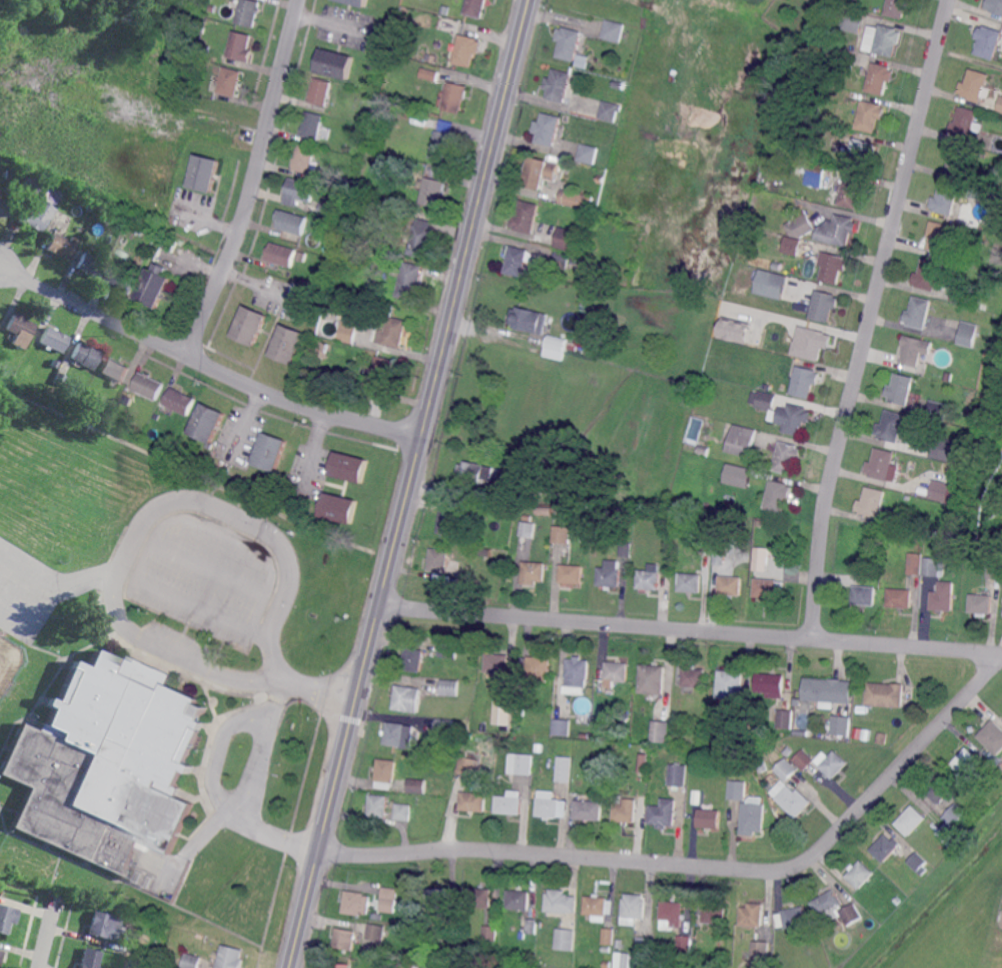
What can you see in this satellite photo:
building: (358, 2)
building: (995, 6)
building: (477, 8)
building: (898, 8)
building: (214, 9)
building: (249, 13)
building: (854, 20)
building: (615, 30)
building: (209, 33)
building: (814, 34)
building: (887, 40)
building: (989, 41)
building: (570, 43)
building: (241, 46)
building: (468, 50)
building: (435, 58)
building: (845, 58)
building: (583, 61)
building: (337, 63)
building: (424, 70)
building: (880, 78)
building: (230, 82)
building: (620, 84)
building: (559, 85)
building: (975, 85)
building: (192, 89)
building: (322, 91)
building: (456, 96)
building: (1000, 105)
building: (611, 110)
building: (871, 115)
building: (420, 121)
building: (965, 122)
building: (313, 125)
building: (548, 128)
building: (328, 143)
building: (444, 145)
building: (981, 146)
building: (840, 148)
building: (589, 152)
building: (862, 153)
building: (825, 157)
building: (305, 158)
building: (958, 160)
building: (438, 170)
building: (397, 171)
building: (2, 172)
building: (541, 172)
building: (206, 173)
building: (816, 174)
building: (10, 176)
building: (324, 178)
building: (602, 178)
road: (252, 181)
road: (484, 184)
building: (27, 187)
building: (300, 191)
building: (10, 192)
building: (433, 192)
building: (853, 192)
building: (578, 199)
building: (758, 200)
building: (946, 200)
building: (357, 202)
building: (3, 208)
building: (64, 208)
building: (595, 208)
building: (325, 209)
building: (99, 214)
road: (206, 215)
building: (776, 215)
building: (527, 216)
building: (105, 218)
building: (29, 219)
building: (291, 221)
building: (801, 224)
building: (117, 226)
building: (838, 230)
building: (99, 231)
building: (939, 236)
building: (422, 237)
building: (572, 239)
building: (123, 243)
building: (170, 244)
building: (793, 245)
building: (59, 246)
building: (143, 247)
building: (359, 250)
building: (370, 252)
building: (281, 254)
building: (301, 257)
building: (575, 258)
building: (562, 259)
building: (519, 260)
building: (90, 265)
building: (778, 266)
building: (833, 266)
building: (928, 274)
building: (122, 281)
building: (411, 281)
building: (771, 283)
road: (256, 285)
building: (154, 286)
building: (310, 286)
building: (962, 294)
building: (824, 305)
building: (336, 307)
building: (983, 308)
building: (919, 312)
road: (870, 317)
building: (530, 320)
building: (776, 322)
building: (249, 327)
building: (734, 329)
building: (19, 330)
building: (348, 332)
building: (392, 332)
building: (968, 333)
building: (52, 340)
building: (288, 343)
building: (814, 343)
building: (555, 347)
building: (323, 348)
building: (913, 350)
building: (85, 356)
building: (54, 364)
road: (206, 365)
building: (113, 370)
building: (382, 372)
building: (949, 377)
building: (59, 379)
building: (805, 381)
building: (148, 386)
building: (768, 386)
building: (329, 387)
building: (901, 388)
building: (126, 399)
building: (764, 399)
building: (179, 402)
building: (115, 403)
building: (938, 410)
building: (156, 416)
building: (791, 418)
building: (207, 424)
building: (892, 426)
building: (743, 441)
building: (702, 449)
building: (947, 449)
building: (270, 451)
road: (418, 451)
building: (787, 457)
building: (881, 465)
building: (349, 466)
building: (953, 469)
building: (479, 472)
building: (739, 476)
building: (517, 490)
building: (941, 491)
building: (777, 495)
building: (872, 502)
building: (337, 507)
building: (544, 510)
road: (148, 513)
building: (449, 518)
building: (666, 518)
building: (760, 522)
road: (206, 524)
building: (528, 527)
building: (682, 531)
building: (934, 532)
building: (561, 535)
building: (587, 541)
building: (625, 548)
building: (467, 551)
building: (719, 557)
building: (759, 558)
building: (439, 560)
building: (915, 563)
building: (933, 565)
road: (209, 567)
building: (994, 569)
building: (860, 571)
building: (533, 572)
building: (570, 573)
building: (610, 574)
building: (649, 580)
building: (877, 581)
building: (690, 582)
building: (730, 585)
building: (765, 588)
building: (864, 595)
building: (943, 596)
building: (899, 597)
building: (981, 604)
road: (202, 607)
road: (256, 610)
road: (370, 628)
road: (689, 629)
building: (449, 649)
building: (414, 659)
building: (497, 662)
building: (536, 668)
building: (577, 671)
building: (617, 671)
building: (694, 676)
building: (653, 679)
building: (730, 684)
building: (771, 684)
building: (450, 687)
road: (320, 691)
building: (823, 691)
building: (886, 694)
building: (408, 698)
road: (277, 701)
building: (505, 707)
building: (520, 710)
building: (744, 714)
building: (785, 718)
building: (841, 724)
building: (561, 725)
building: (445, 726)
building: (659, 730)
building: (400, 734)
building: (585, 735)
building: (625, 735)
building: (992, 736)
building: (883, 738)
building: (700, 741)
building: (540, 745)
road: (222, 748)
building: (787, 749)
building: (702, 754)
building: (803, 759)
building: (966, 761)
building: (106, 762)
building: (521, 763)
building: (644, 763)
building: (834, 764)
building: (469, 765)
road: (257, 766)
building: (763, 767)
building: (786, 768)
building: (564, 769)
building: (606, 772)
building: (386, 773)
building: (678, 773)
building: (417, 786)
building: (737, 788)
building: (940, 789)
building: (793, 799)
building: (474, 801)
building: (510, 802)
building: (551, 805)
building: (378, 806)
building: (590, 809)
building: (626, 810)
building: (403, 811)
building: (663, 811)
building: (955, 814)
building: (752, 817)
building: (710, 818)
building: (912, 819)
road: (268, 829)
road: (208, 830)
building: (950, 835)
road: (316, 846)
building: (886, 848)
building: (918, 861)
road: (702, 866)
building: (860, 874)
building: (481, 897)
building: (388, 898)
building: (439, 899)
building: (519, 899)
building: (898, 899)
building: (561, 901)
building: (357, 903)
building: (828, 903)
building: (599, 907)
building: (634, 910)
building: (674, 912)
building: (716, 913)
building: (852, 914)
building: (753, 915)
building: (378, 916)
building: (796, 917)
building: (5, 918)
building: (531, 924)
building: (103, 925)
road: (46, 931)
building: (377, 931)
building: (491, 933)
building: (522, 935)
building: (609, 936)
building: (345, 938)
building: (566, 938)
building: (619, 943)
building: (684, 943)
building: (121, 948)
building: (761, 950)
building: (645, 952)
building: (1, 956)
building: (232, 957)
building: (89, 958)
building: (684, 959)
building: (622, 960)
building: (779, 960)
building: (193, 961)
building: (135, 964)
building: (607, 964)
building: (342, 965)
building: (396, 965)

